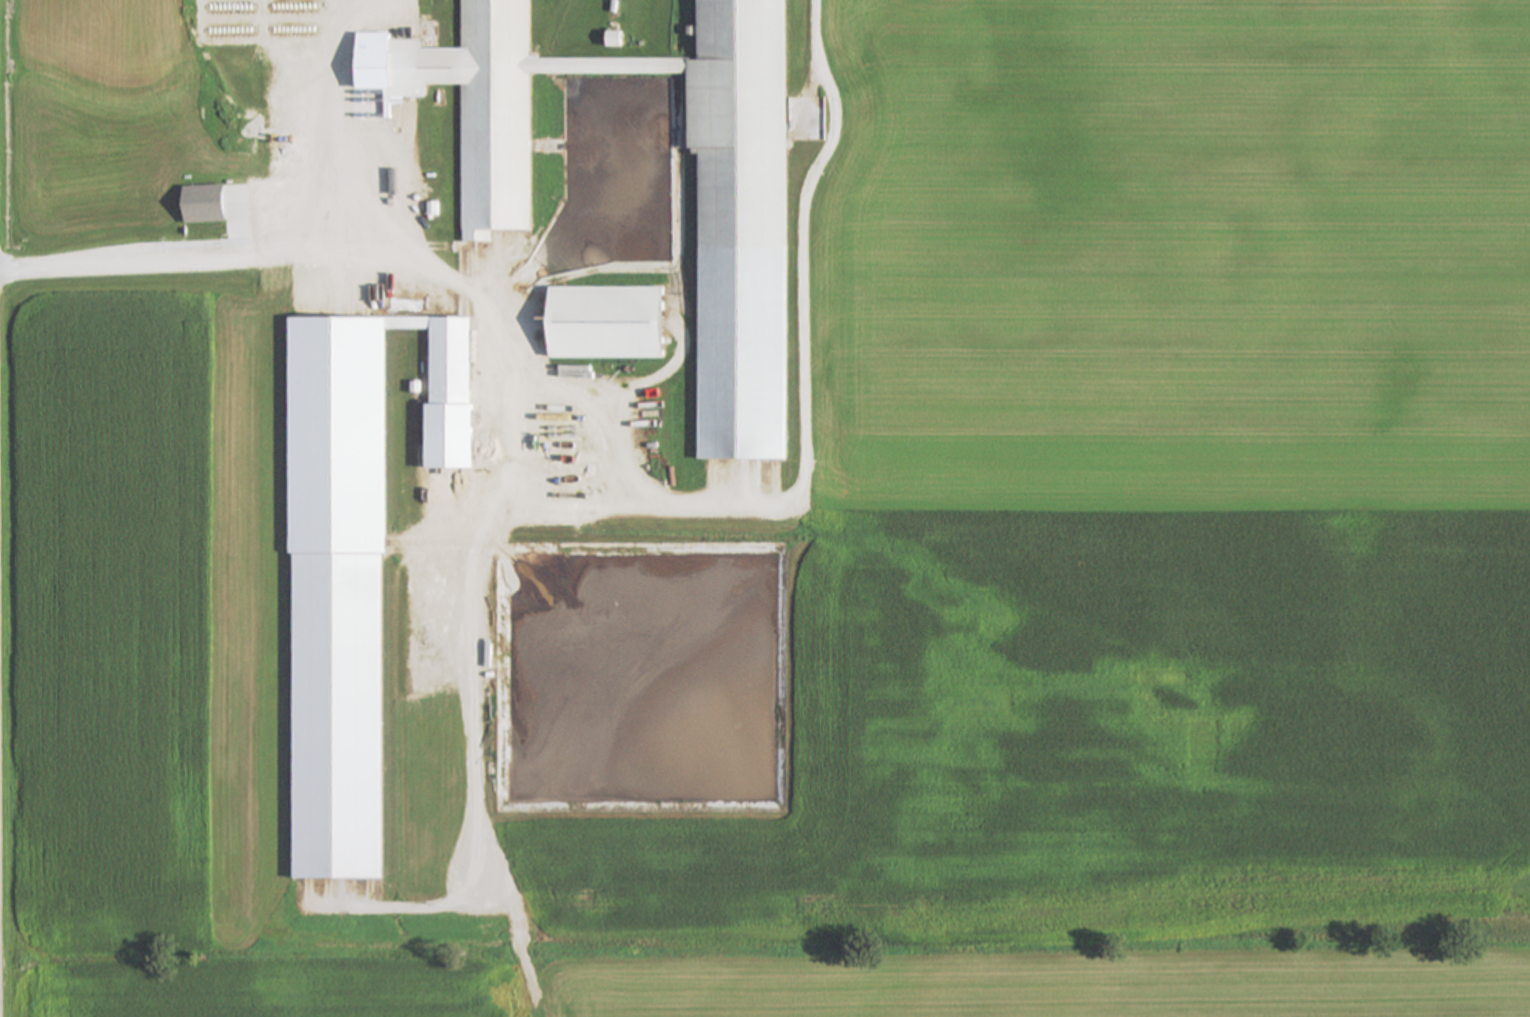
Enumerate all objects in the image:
road: (379, 129)
building: (747, 194)
building: (611, 324)
road: (528, 334)
road: (617, 456)
road: (539, 531)

